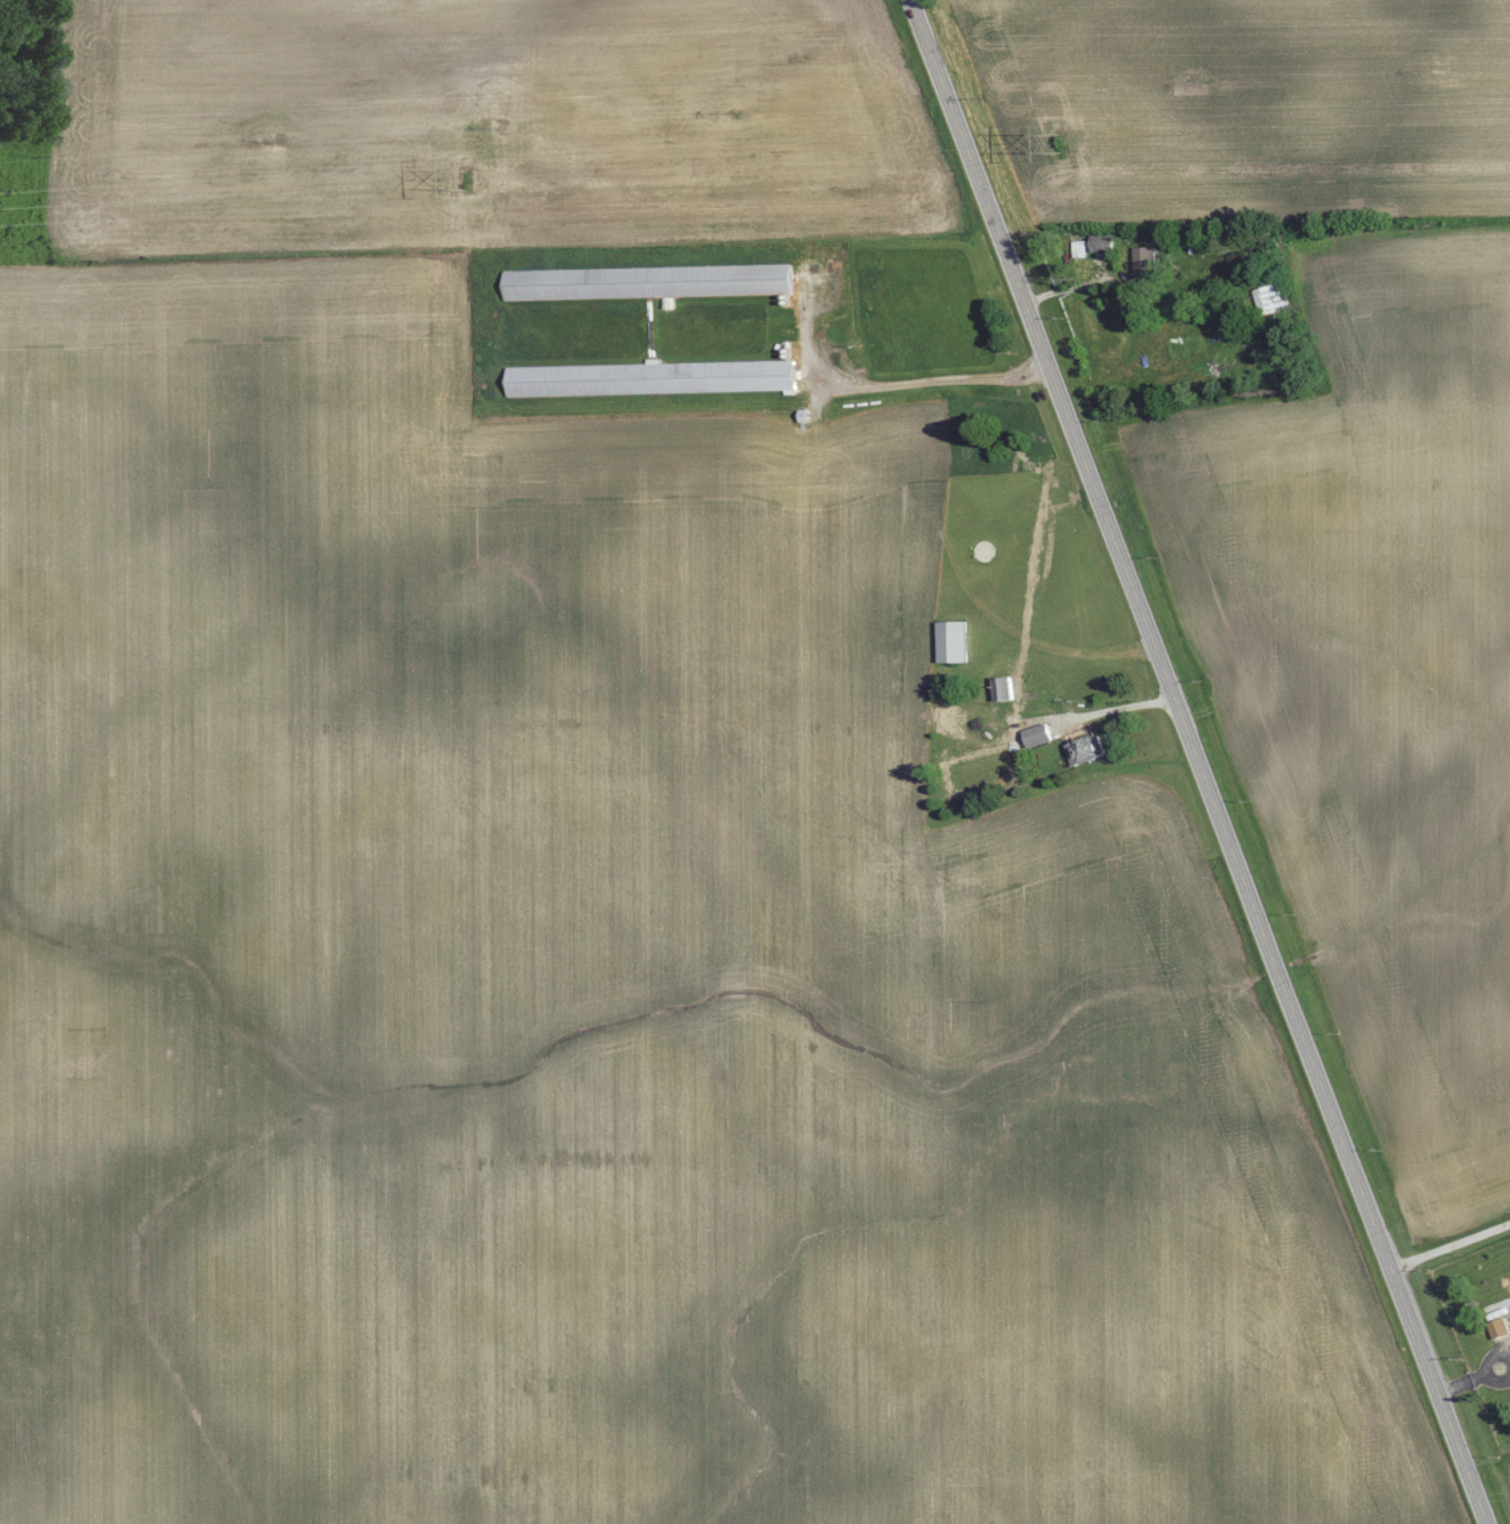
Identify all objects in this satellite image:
power tower: (1061, 141)
power tower: (465, 179)
building: (1103, 243)
building: (1145, 260)
building: (648, 281)
building: (1273, 297)
building: (653, 378)
road: (932, 381)
building: (953, 641)
building: (1004, 688)
road: (1119, 708)
building: (1038, 734)
building: (1086, 750)
road: (1195, 762)
road: (1450, 1246)
building: (1500, 1328)
road: (1480, 1376)

